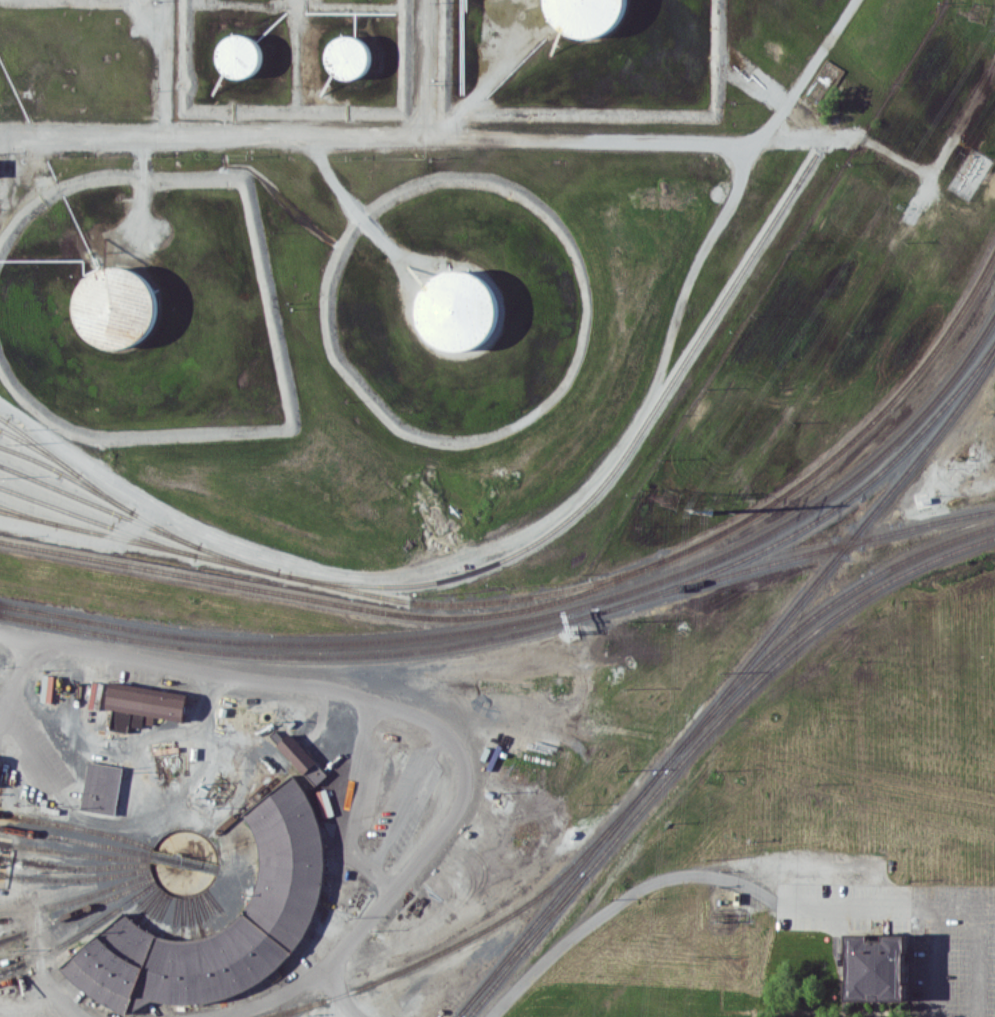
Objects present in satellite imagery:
power tower: (979, 10)
building: (584, 16)
building: (238, 52)
building: (347, 53)
road: (164, 68)
road: (426, 70)
road: (460, 141)
road: (144, 190)
road: (353, 203)
building: (448, 305)
building: (117, 307)
road: (516, 431)
railway: (39, 450)
railway: (65, 464)
railway: (616, 464)
railway: (66, 475)
power tower: (668, 496)
railway: (818, 500)
power tower: (710, 510)
railway: (821, 514)
railway: (27, 516)
railway: (137, 521)
railway: (96, 522)
railway: (164, 529)
railway: (96, 532)
road: (469, 552)
railway: (794, 557)
railway: (832, 560)
railway: (235, 563)
railway: (563, 598)
railway: (469, 602)
railway: (810, 619)
railway: (72, 628)
railway: (290, 642)
railway: (372, 654)
railway: (764, 674)
road: (14, 678)
building: (142, 704)
road: (389, 707)
building: (297, 754)
building: (101, 786)
railway: (243, 806)
railway: (77, 827)
railway: (229, 829)
railway: (233, 835)
railway: (75, 840)
railway: (236, 843)
railway: (238, 850)
railway: (74, 852)
railway: (239, 858)
railway: (74, 866)
road: (688, 873)
railway: (75, 878)
railway: (159, 886)
railway: (559, 891)
railway: (198, 893)
railway: (77, 898)
building: (284, 900)
railway: (217, 906)
railway: (154, 909)
road: (957, 909)
railway: (77, 910)
railway: (211, 910)
railway: (160, 912)
railway: (204, 913)
railway: (198, 915)
railway: (175, 917)
railway: (182, 917)
railway: (190, 917)
railway: (485, 926)
railway: (78, 929)
railway: (522, 944)
railway: (526, 946)
building: (876, 967)
road: (271, 996)
road: (58, 997)

